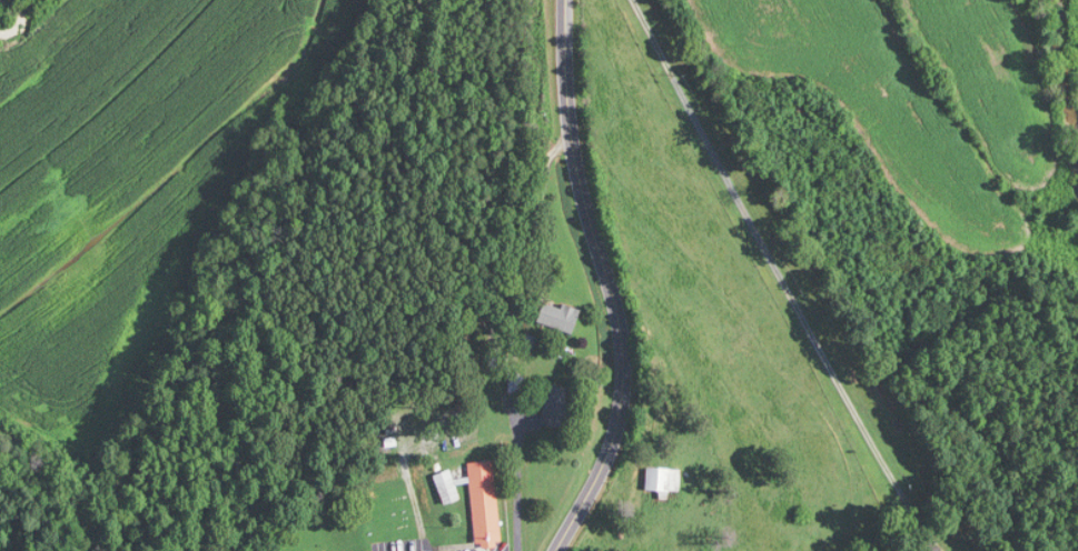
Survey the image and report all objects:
building: (794, 106)
road: (537, 219)
road: (780, 277)
road: (610, 281)
building: (557, 317)
building: (882, 403)
building: (553, 405)
building: (662, 479)
building: (445, 487)
road: (517, 489)
building: (483, 503)

